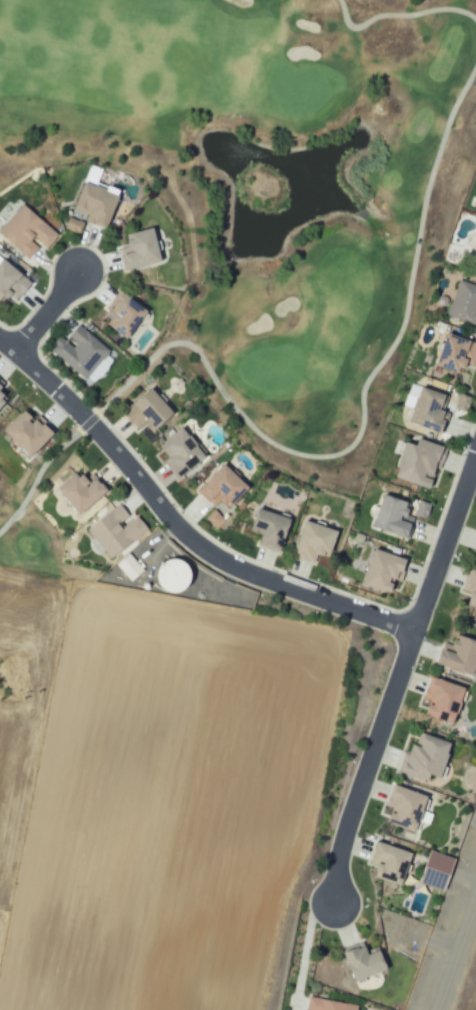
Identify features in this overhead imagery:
park: (270, 185)
building: (101, 204)
building: (75, 225)
building: (28, 231)
building: (146, 250)
building: (475, 258)
building: (13, 283)
building: (463, 304)
building: (130, 315)
road: (49, 318)
building: (81, 352)
building: (455, 355)
building: (101, 369)
building: (4, 396)
building: (152, 412)
building: (428, 412)
road: (461, 431)
building: (33, 433)
building: (184, 454)
building: (417, 464)
road: (458, 464)
building: (221, 489)
building: (86, 492)
road: (136, 501)
building: (397, 514)
building: (216, 519)
building: (270, 530)
building: (114, 532)
road: (178, 534)
road: (431, 536)
park: (30, 539)
road: (464, 539)
building: (313, 543)
building: (475, 553)
road: (260, 565)
building: (130, 568)
building: (382, 572)
road: (452, 575)
building: (176, 576)
water tower: (172, 578)
road: (297, 579)
road: (421, 579)
building: (470, 588)
road: (427, 644)
building: (459, 657)
road: (415, 680)
road: (400, 684)
building: (442, 700)
road: (386, 754)
building: (424, 759)
road: (374, 792)
building: (403, 807)
road: (356, 845)
building: (389, 862)
building: (430, 870)
road: (326, 908)
road: (345, 925)
airport taxiway: (451, 941)
airport: (452, 942)
road: (305, 960)
building: (364, 963)
airport taxiway: (462, 970)
building: (327, 1005)

